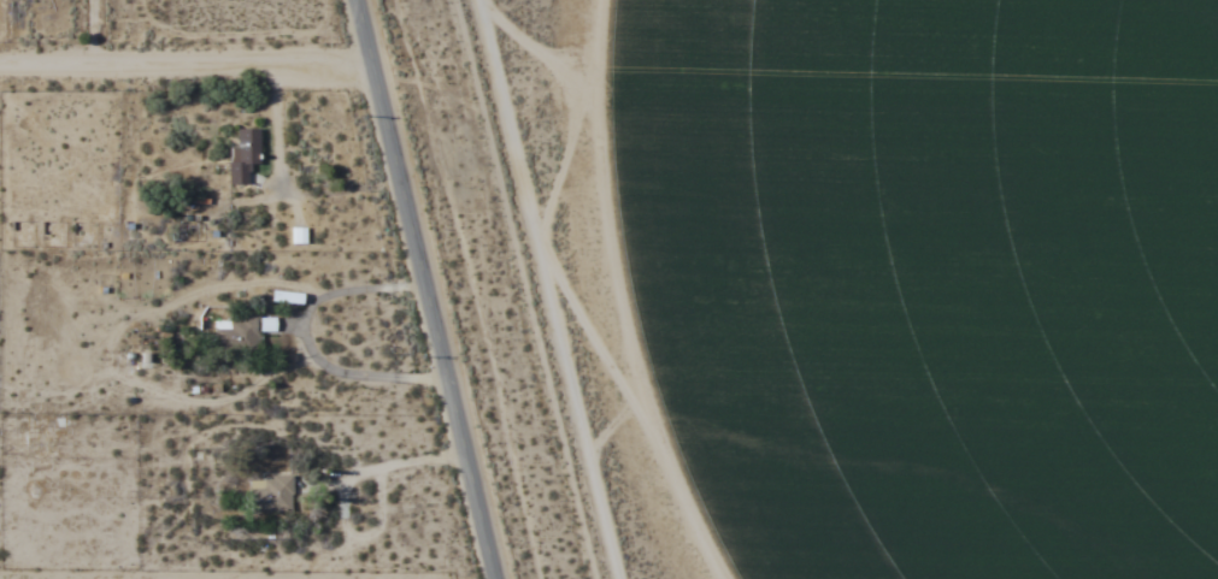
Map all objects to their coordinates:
road: (188, 66)
building: (243, 154)
crop: (916, 279)
road: (426, 289)
building: (235, 333)
building: (270, 492)

